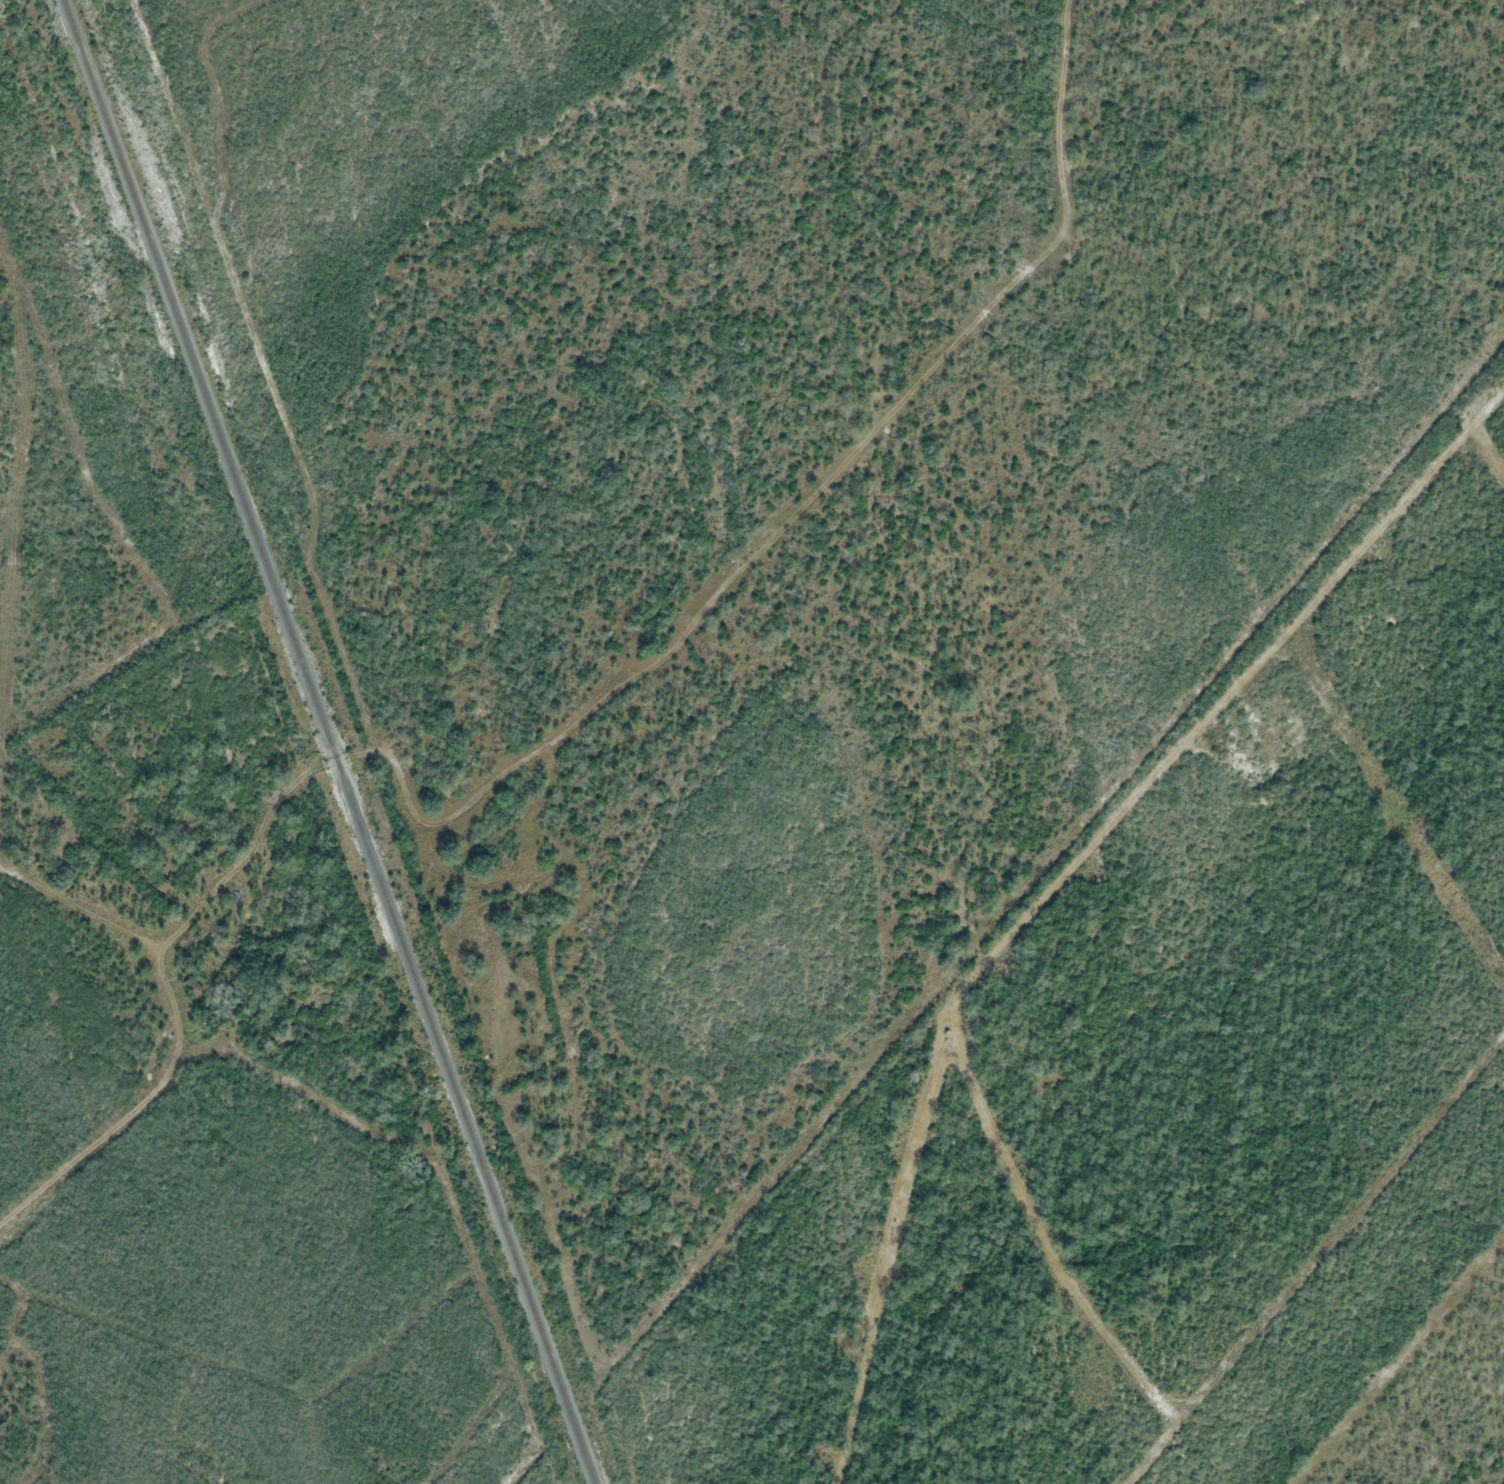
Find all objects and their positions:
railway: (328, 742)
building: (191, 987)
road: (349, 1107)
road: (509, 1479)

